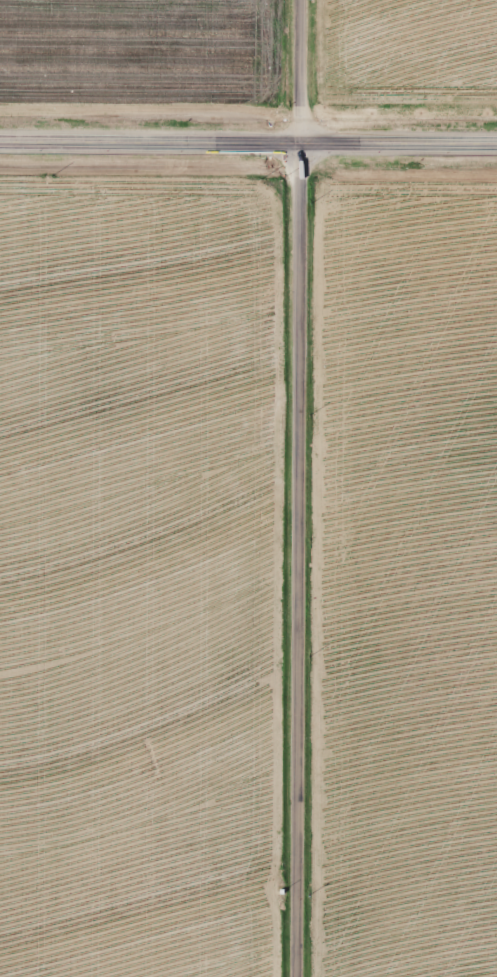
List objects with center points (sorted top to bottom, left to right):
road: (292, 73)
road: (248, 146)
road: (291, 562)

